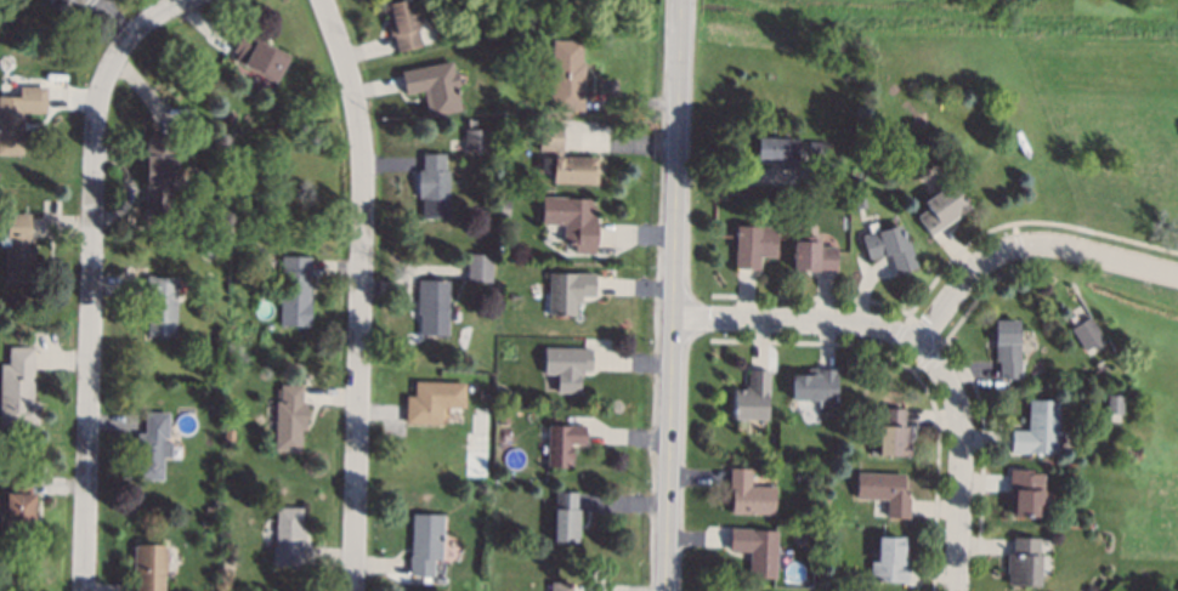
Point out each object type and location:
building: (70, 5)
road: (166, 10)
building: (402, 24)
building: (260, 56)
building: (567, 76)
building: (434, 86)
building: (18, 117)
building: (230, 117)
building: (477, 141)
park: (1027, 148)
building: (820, 149)
building: (776, 150)
building: (566, 159)
building: (829, 170)
building: (160, 172)
building: (435, 186)
building: (860, 203)
building: (505, 209)
building: (942, 209)
building: (572, 222)
road: (1027, 241)
building: (754, 245)
building: (890, 248)
building: (18, 250)
building: (205, 251)
building: (812, 255)
building: (480, 267)
building: (483, 290)
building: (295, 291)
road: (357, 291)
building: (567, 291)
road: (675, 295)
road: (90, 297)
building: (162, 305)
building: (434, 306)
road: (798, 320)
building: (1088, 333)
building: (1008, 348)
building: (566, 366)
building: (816, 387)
building: (18, 391)
building: (752, 397)
building: (432, 400)
building: (1115, 404)
building: (290, 419)
building: (1038, 430)
building: (230, 434)
building: (894, 434)
building: (562, 443)
building: (153, 447)
building: (12, 461)
road: (959, 461)
building: (885, 491)
building: (1026, 493)
building: (749, 494)
building: (18, 510)
building: (209, 511)
building: (566, 517)
building: (208, 524)
building: (289, 538)
building: (425, 544)
building: (757, 550)
building: (890, 561)
building: (1024, 562)
building: (227, 564)
building: (149, 567)
building: (561, 586)

